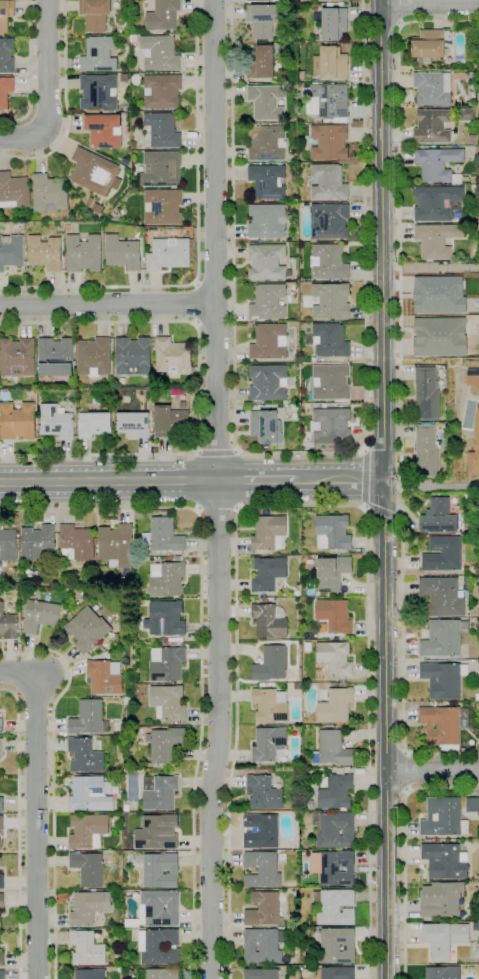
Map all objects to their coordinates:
building: (259, 0)
building: (316, 0)
road: (429, 4)
road: (401, 12)
building: (5, 14)
building: (95, 14)
building: (162, 16)
building: (262, 19)
building: (332, 22)
road: (380, 35)
building: (134, 38)
building: (315, 39)
building: (124, 45)
building: (429, 47)
building: (159, 53)
building: (99, 54)
building: (6, 56)
building: (260, 63)
building: (330, 63)
road: (30, 72)
building: (302, 74)
building: (471, 75)
building: (136, 79)
building: (472, 86)
road: (47, 88)
building: (432, 88)
building: (5, 91)
building: (162, 91)
building: (98, 92)
building: (327, 101)
building: (266, 102)
road: (67, 105)
building: (133, 108)
building: (136, 113)
building: (467, 114)
building: (317, 120)
building: (327, 120)
building: (432, 127)
building: (103, 130)
building: (162, 130)
building: (472, 140)
building: (329, 142)
building: (266, 143)
building: (437, 163)
building: (161, 169)
building: (94, 172)
building: (473, 179)
building: (269, 181)
building: (328, 182)
building: (14, 191)
building: (49, 194)
building: (89, 202)
building: (436, 202)
building: (162, 206)
building: (97, 208)
building: (266, 221)
building: (329, 221)
road: (198, 239)
building: (437, 240)
building: (11, 251)
building: (122, 252)
building: (44, 253)
building: (83, 253)
building: (168, 254)
building: (266, 261)
building: (328, 262)
road: (430, 266)
road: (214, 284)
building: (330, 301)
building: (268, 302)
road: (107, 304)
road: (195, 304)
road: (215, 324)
building: (327, 340)
building: (269, 342)
building: (132, 356)
building: (172, 356)
building: (17, 357)
building: (55, 357)
building: (93, 357)
building: (312, 360)
building: (472, 376)
building: (268, 382)
building: (330, 382)
road: (400, 385)
road: (200, 388)
building: (427, 392)
building: (284, 402)
building: (183, 405)
building: (169, 420)
building: (17, 421)
building: (56, 422)
building: (93, 424)
building: (133, 424)
building: (331, 426)
building: (265, 427)
building: (476, 435)
building: (426, 451)
road: (216, 453)
road: (299, 453)
road: (364, 475)
road: (256, 480)
road: (339, 480)
road: (109, 481)
road: (431, 486)
road: (219, 489)
road: (384, 489)
road: (303, 506)
road: (217, 511)
road: (382, 512)
building: (439, 517)
building: (332, 532)
building: (269, 533)
building: (162, 536)
building: (37, 541)
building: (76, 542)
building: (8, 544)
building: (116, 544)
building: (442, 554)
building: (177, 558)
building: (268, 573)
building: (332, 573)
building: (166, 579)
building: (127, 584)
building: (83, 594)
building: (441, 597)
building: (264, 599)
building: (270, 599)
building: (40, 615)
building: (334, 615)
building: (165, 618)
building: (269, 621)
building: (8, 624)
building: (87, 629)
building: (443, 637)
building: (175, 639)
building: (166, 643)
building: (173, 644)
road: (201, 646)
building: (307, 646)
building: (334, 658)
building: (166, 663)
building: (270, 664)
building: (104, 677)
building: (442, 680)
road: (29, 683)
building: (261, 684)
building: (271, 684)
building: (334, 684)
road: (16, 692)
building: (477, 697)
building: (127, 701)
building: (168, 702)
building: (269, 705)
building: (335, 706)
building: (88, 718)
building: (1, 725)
building: (443, 726)
building: (165, 744)
building: (268, 744)
building: (1, 746)
building: (332, 749)
road: (388, 754)
building: (85, 756)
road: (432, 771)
road: (406, 772)
road: (53, 782)
building: (335, 790)
road: (387, 790)
building: (159, 792)
building: (263, 793)
building: (89, 794)
building: (1, 804)
building: (309, 804)
building: (472, 805)
road: (35, 807)
building: (126, 807)
building: (115, 818)
building: (443, 818)
building: (1, 823)
building: (114, 826)
road: (19, 828)
building: (336, 830)
building: (88, 831)
building: (260, 831)
building: (157, 832)
building: (436, 841)
road: (404, 849)
building: (445, 861)
building: (334, 867)
building: (88, 868)
building: (261, 869)
building: (160, 870)
building: (1, 881)
building: (441, 899)
building: (2, 900)
building: (335, 907)
building: (89, 908)
building: (159, 908)
building: (262, 909)
building: (0, 921)
building: (444, 939)
building: (337, 945)
building: (261, 946)
building: (159, 947)
building: (87, 948)
building: (474, 955)
building: (1, 959)
building: (90, 973)
building: (338, 973)
building: (443, 973)
building: (159, 974)
building: (261, 974)
building: (2, 975)

